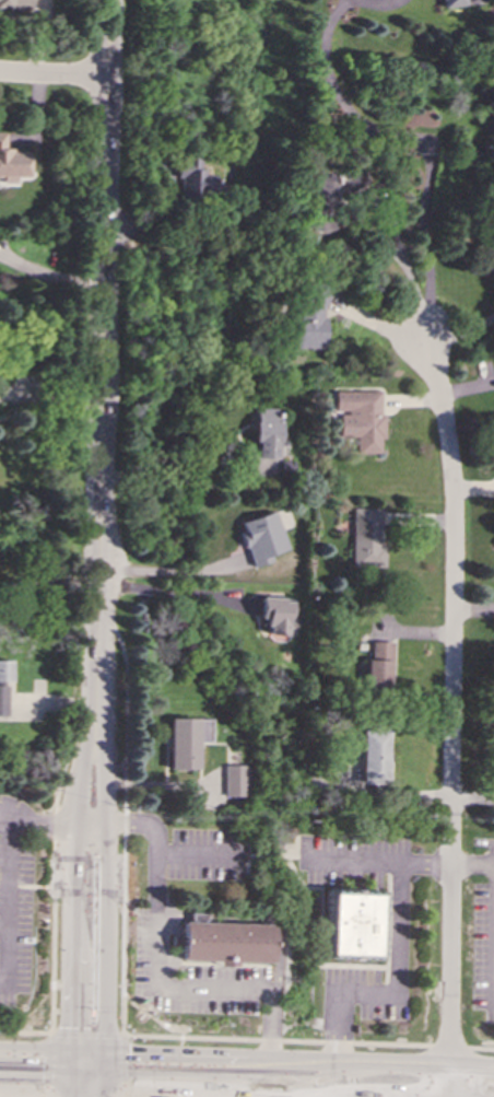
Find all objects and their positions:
building: (15, 2)
road: (375, 2)
building: (450, 2)
road: (54, 74)
road: (419, 139)
building: (11, 162)
building: (193, 179)
building: (486, 257)
road: (49, 275)
building: (309, 316)
road: (102, 365)
building: (358, 419)
building: (266, 432)
road: (168, 482)
building: (261, 537)
building: (365, 538)
road: (173, 593)
building: (275, 615)
building: (377, 664)
building: (4, 669)
building: (3, 700)
road: (452, 711)
building: (185, 742)
building: (373, 757)
building: (234, 780)
road: (1, 809)
road: (125, 815)
road: (39, 821)
road: (90, 825)
parking lot: (209, 853)
road: (200, 854)
parking lot: (349, 860)
road: (376, 861)
road: (472, 864)
road: (43, 882)
road: (72, 894)
road: (106, 895)
parking lot: (14, 898)
road: (9, 901)
building: (352, 924)
parking lot: (482, 927)
building: (225, 942)
parking lot: (190, 972)
road: (156, 976)
road: (396, 992)
parking lot: (358, 994)
road: (39, 1012)
road: (35, 1025)
traffic signals: (70, 1027)
road: (131, 1027)
road: (14, 1031)
road: (82, 1034)
road: (146, 1034)
road: (314, 1039)
road: (103, 1053)
road: (34, 1055)
road: (79, 1057)
road: (95, 1057)
road: (103, 1058)
traffic signals: (128, 1059)
road: (97, 1061)
road: (298, 1064)
road: (68, 1065)
road: (85, 1069)
road: (34, 1073)
traffic signals: (38, 1073)
road: (73, 1074)
road: (102, 1077)
road: (68, 1085)
traffic signals: (37, 1095)
road: (49, 1095)
road: (109, 1096)

